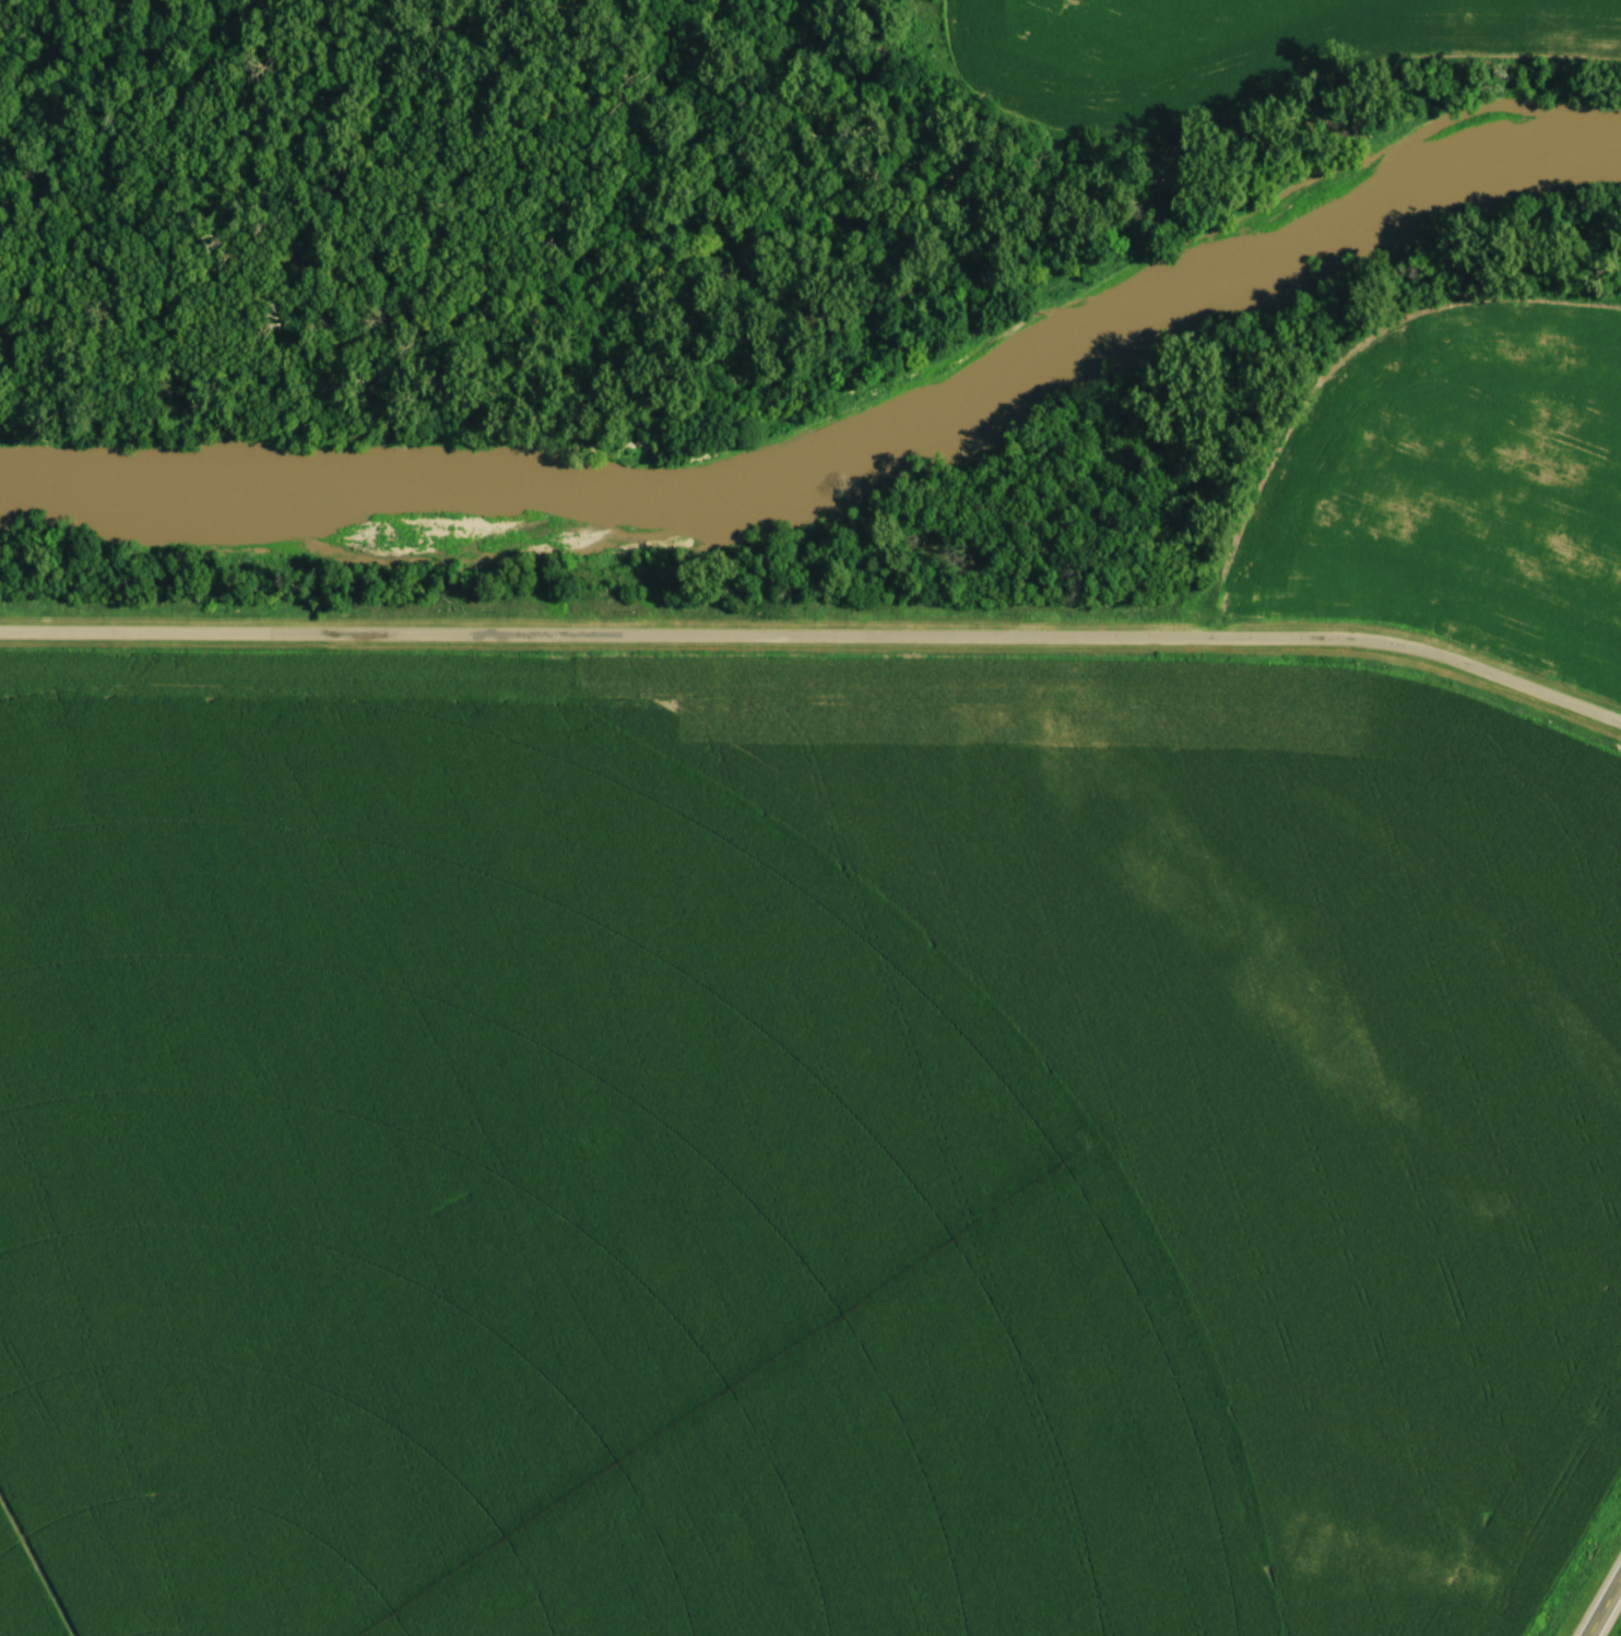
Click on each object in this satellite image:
river: (838, 440)
road: (817, 638)
road: (1607, 1612)

